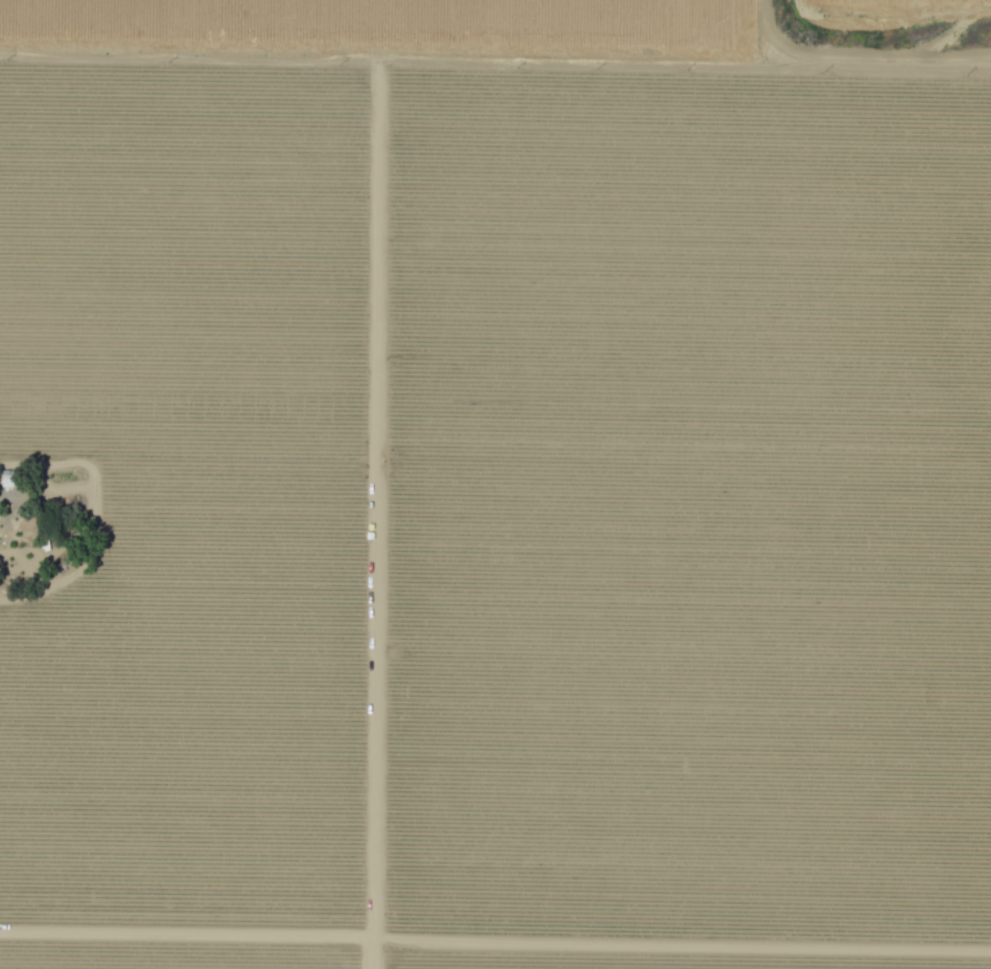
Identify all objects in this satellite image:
road: (202, 934)

